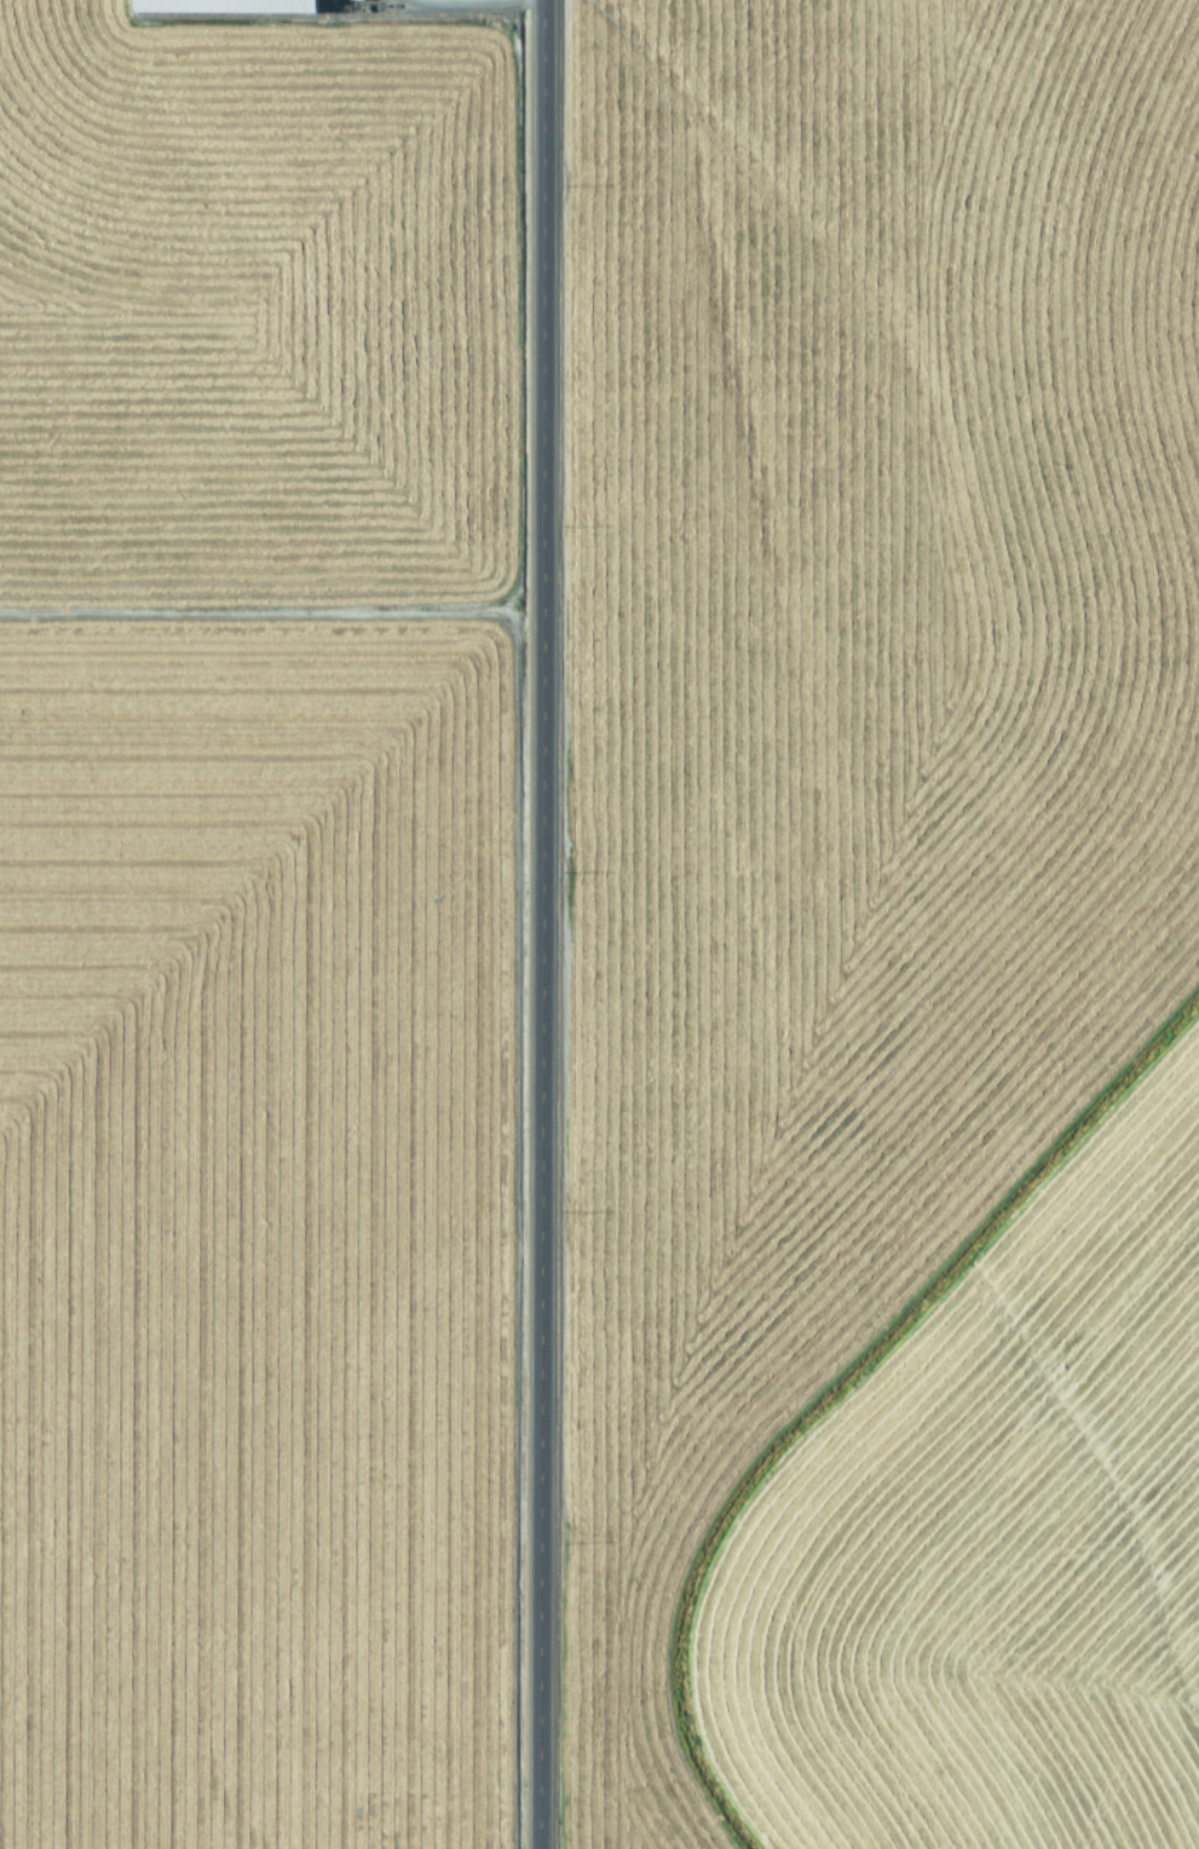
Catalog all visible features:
building: (220, 5)
road: (528, 923)
crop: (888, 923)
crop: (234, 926)

